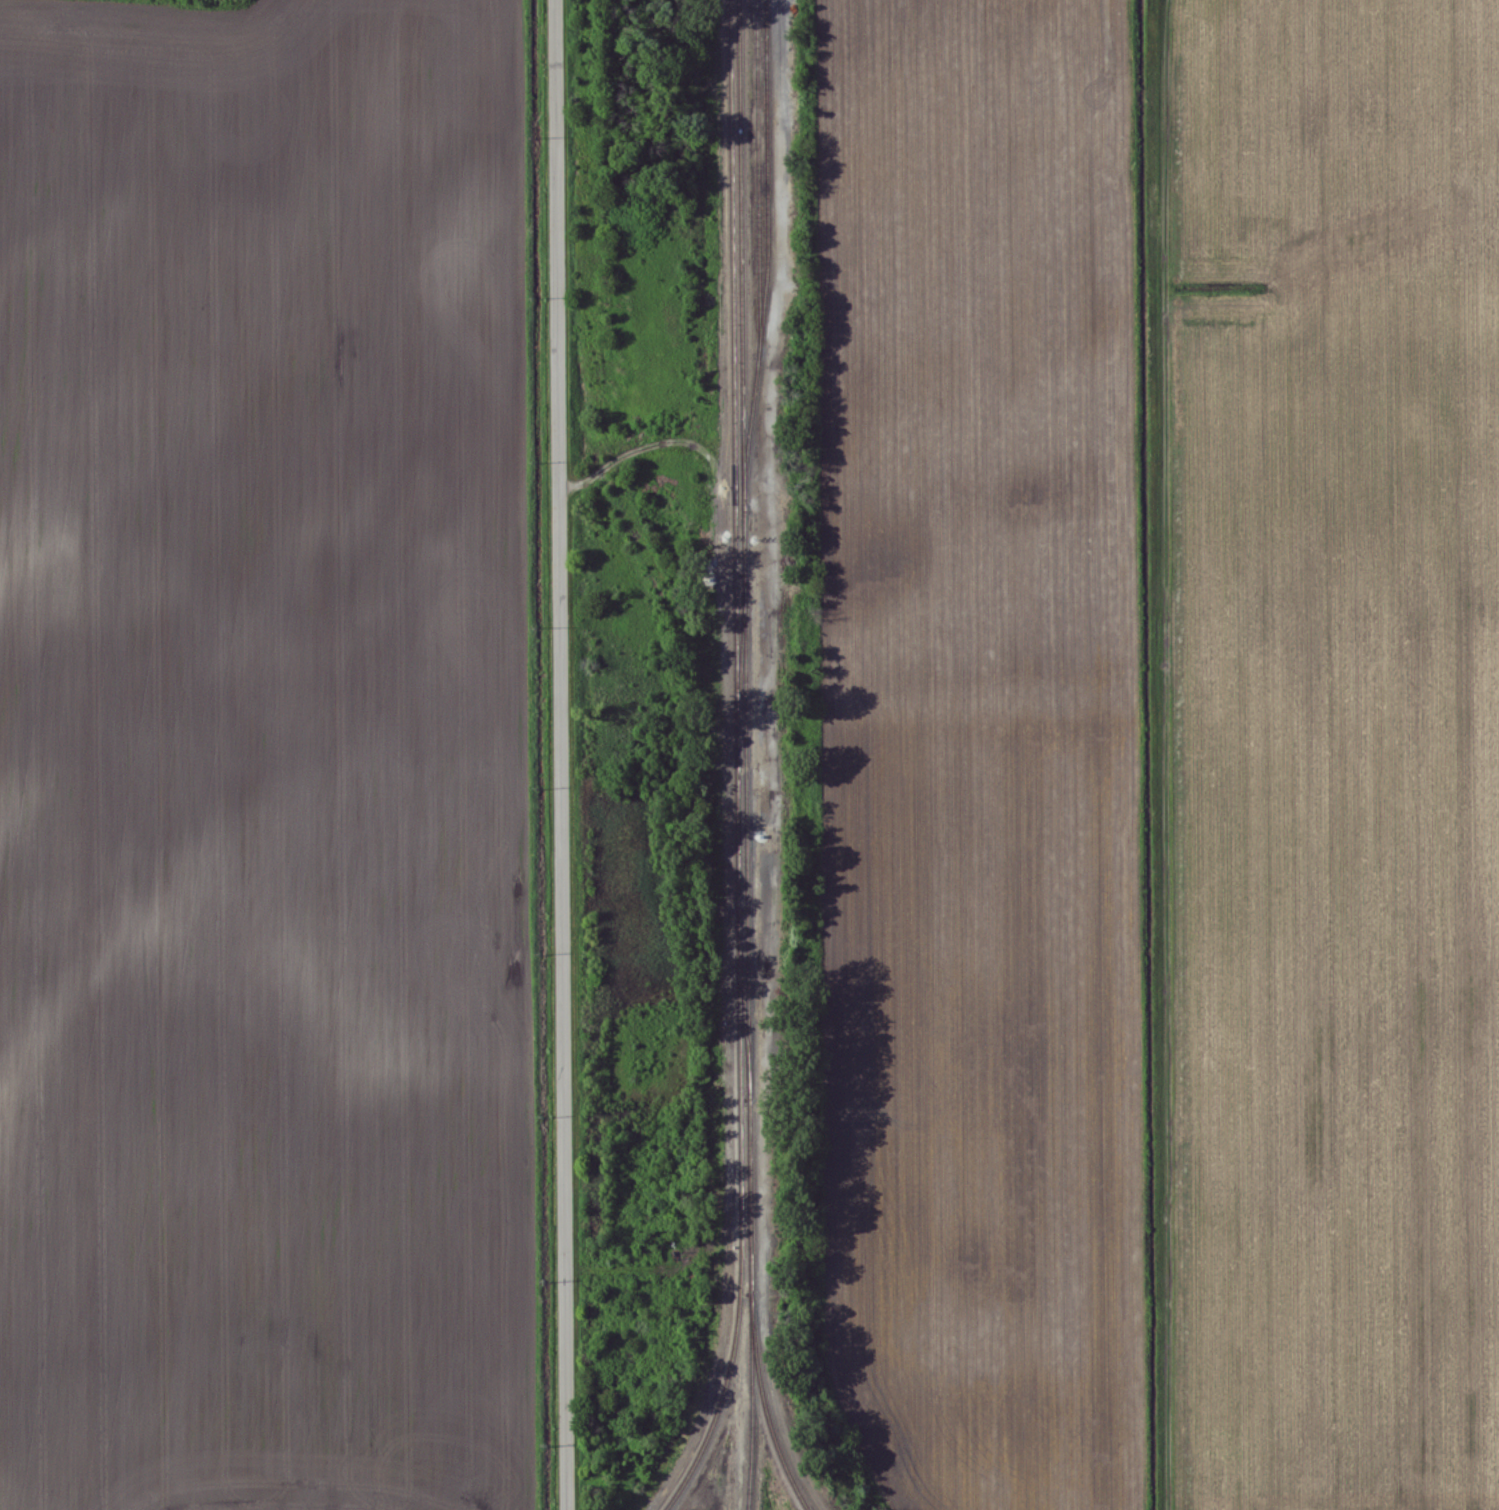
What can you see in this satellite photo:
railway: (766, 169)
railway: (774, 245)
railway: (750, 512)
railway: (742, 629)
railway: (747, 648)
road: (568, 755)
road: (1171, 755)
railway: (753, 1215)
railway: (727, 1390)
railway: (754, 1403)

